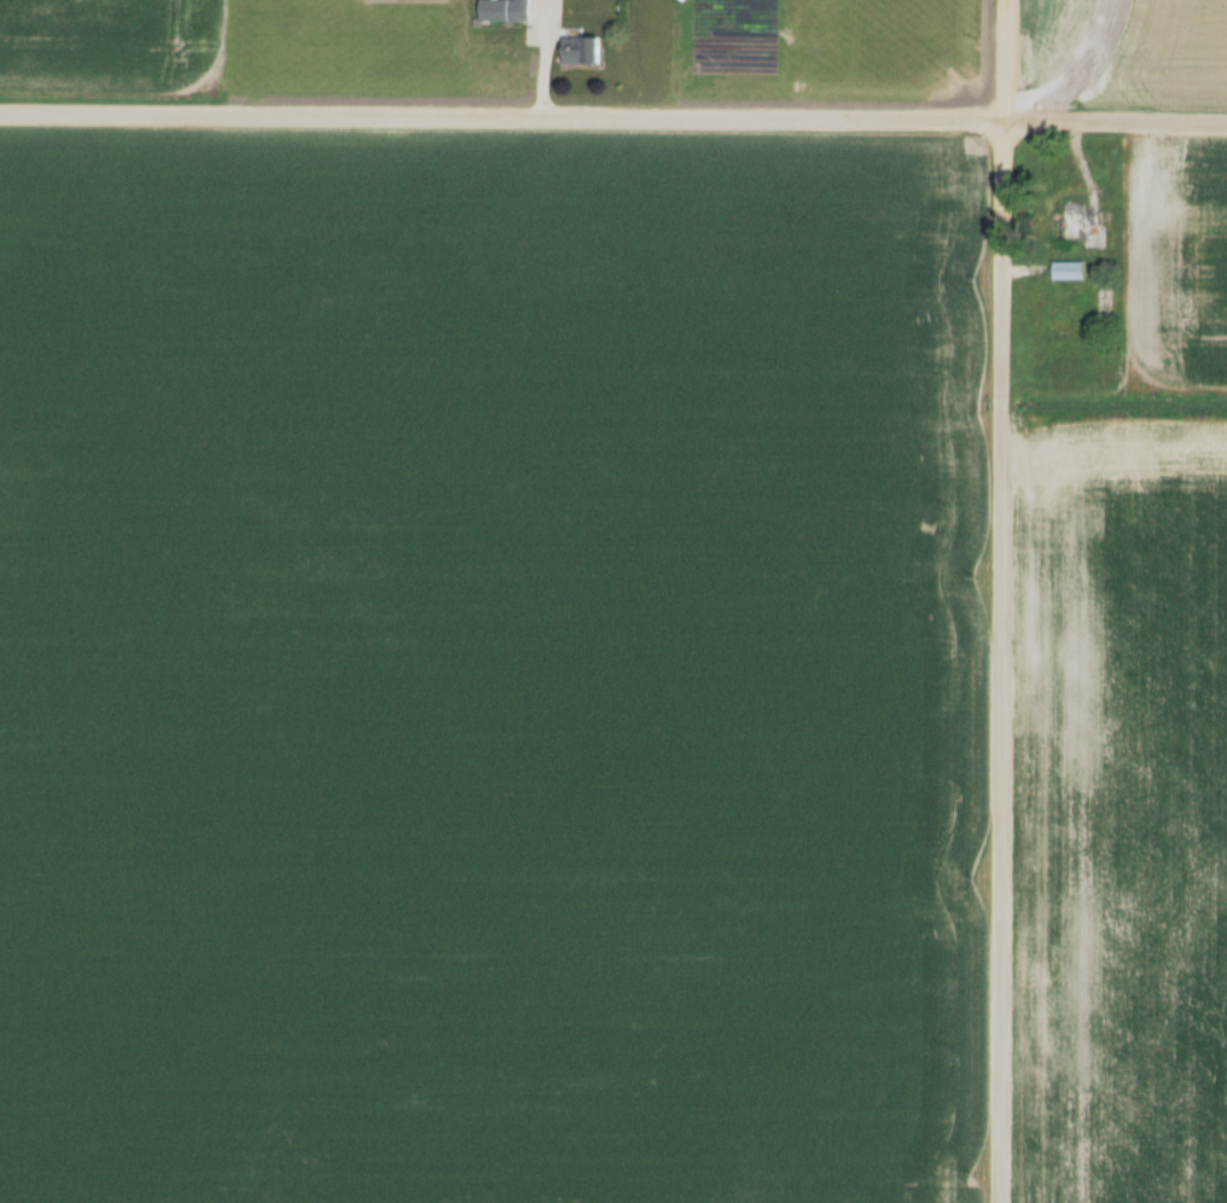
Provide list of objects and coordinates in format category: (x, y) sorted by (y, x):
building: (504, 10)
building: (581, 48)
road: (613, 117)
building: (1082, 227)
building: (1069, 269)
road: (1001, 601)

